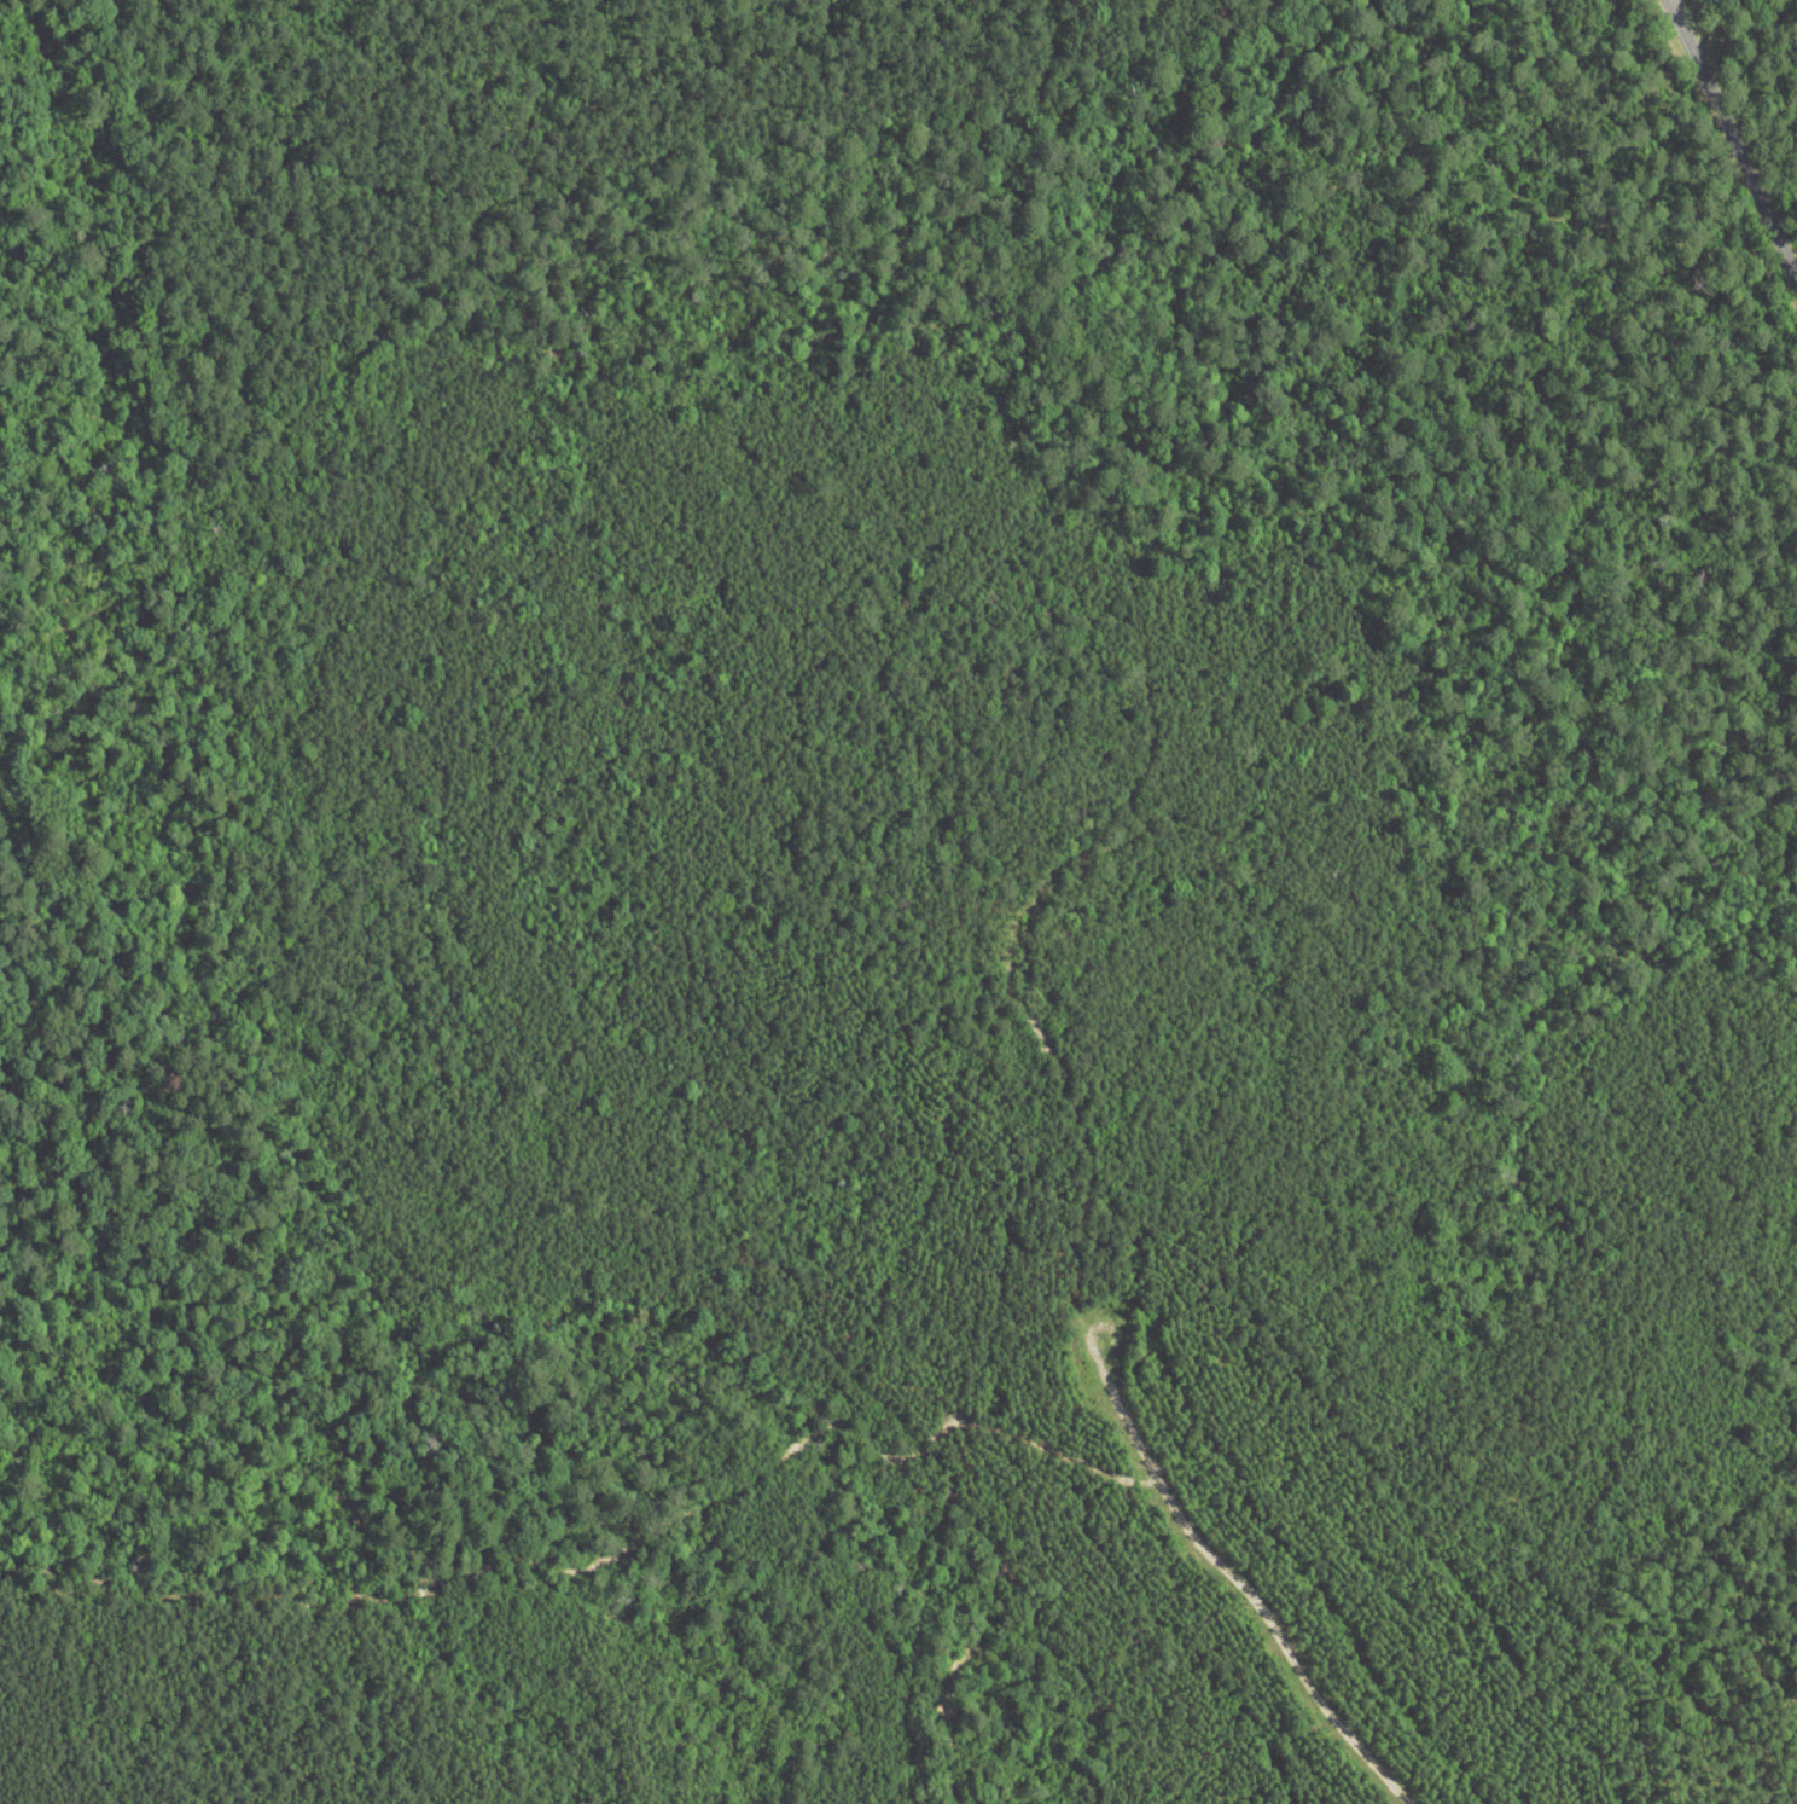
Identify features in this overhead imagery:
road: (593, 98)
road: (1737, 137)
road: (1789, 237)
road: (856, 242)
road: (1016, 427)
road: (1024, 987)
road: (1243, 1582)

